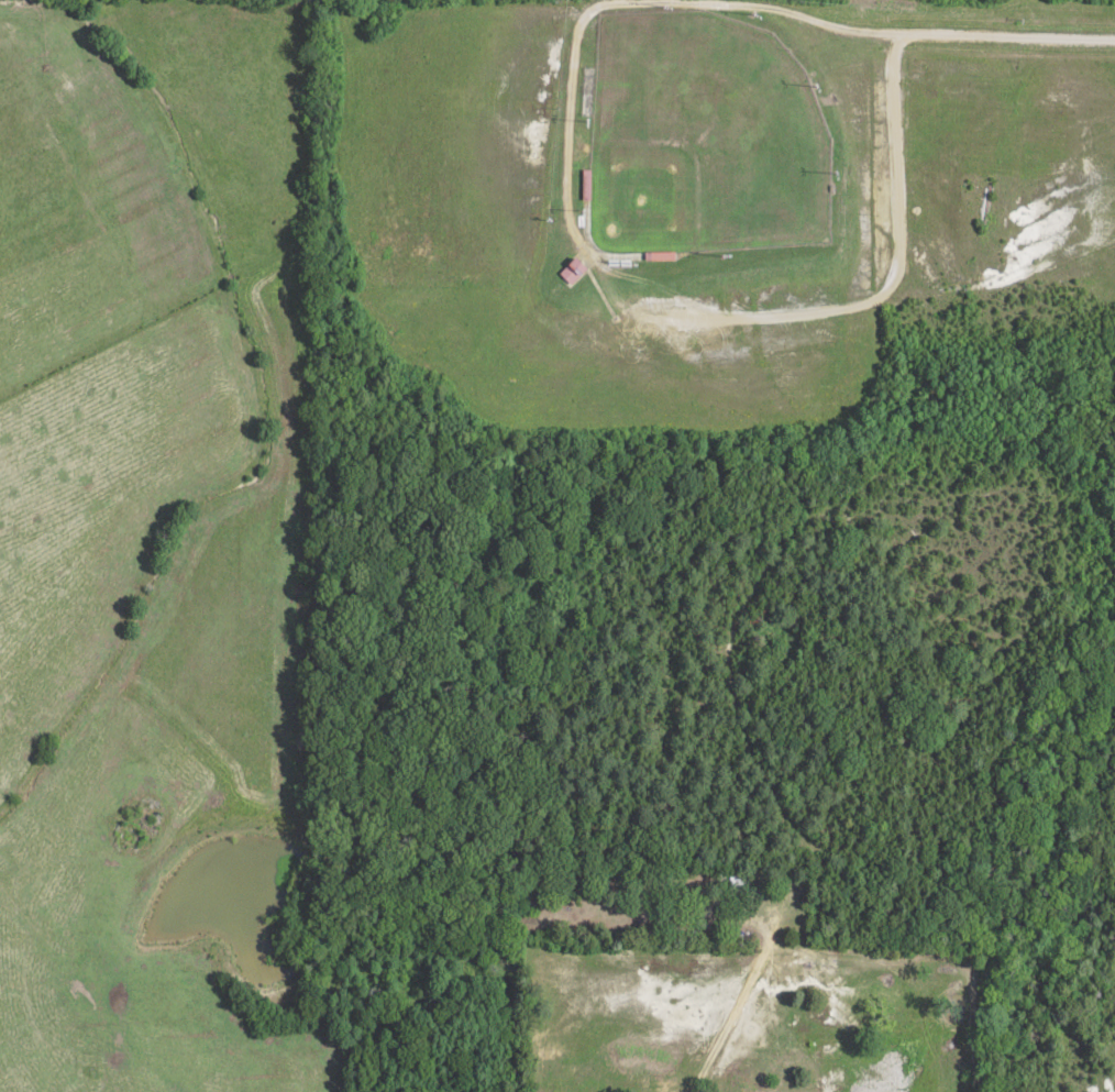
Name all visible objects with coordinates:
road: (928, 29)
park: (705, 140)
road: (901, 265)
building: (577, 274)

